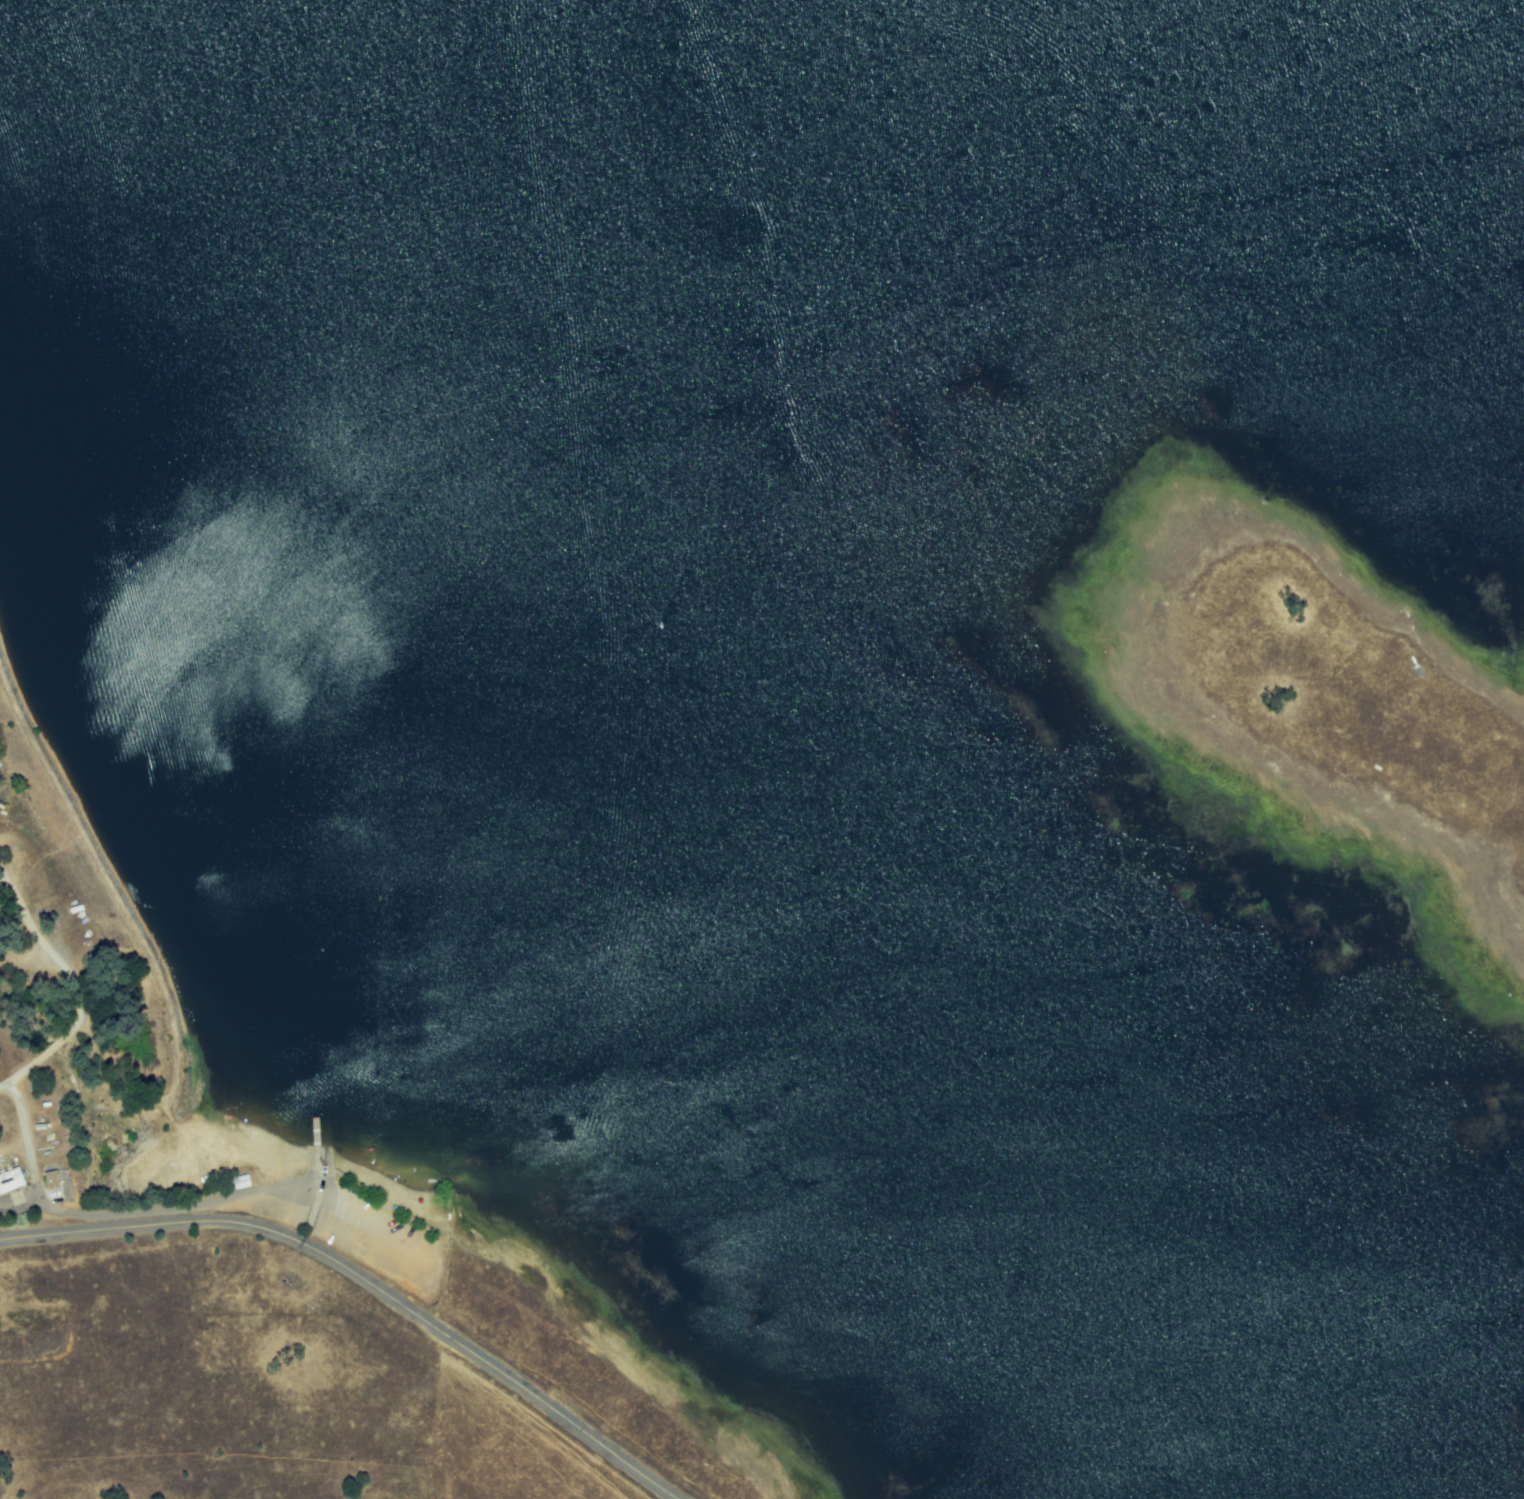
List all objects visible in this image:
dam: (142, 930)
road: (78, 987)
building: (51, 1175)
road: (323, 1175)
building: (10, 1179)
road: (23, 1205)
road: (163, 1212)
road: (367, 1279)

